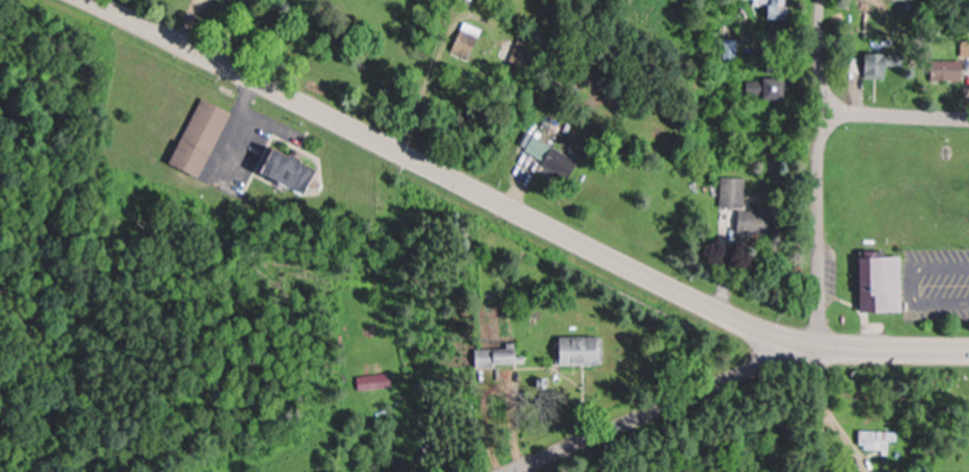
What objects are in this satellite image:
building: (252, 0)
building: (767, 8)
building: (728, 50)
building: (963, 51)
building: (866, 66)
building: (944, 71)
building: (764, 89)
road: (895, 115)
building: (196, 138)
building: (548, 157)
building: (275, 169)
road: (819, 174)
building: (738, 211)
road: (516, 214)
building: (863, 281)
building: (579, 351)
road: (833, 412)
road: (653, 413)
building: (876, 441)

